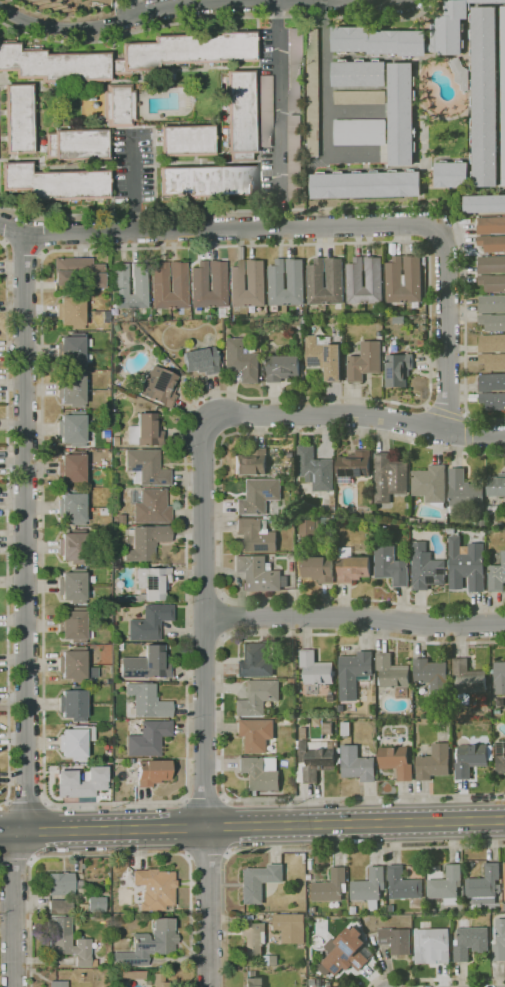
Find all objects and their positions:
road: (193, 5)
road: (134, 7)
road: (218, 19)
building: (410, 35)
building: (127, 56)
building: (293, 70)
building: (359, 73)
building: (460, 74)
road: (324, 78)
building: (313, 93)
building: (502, 93)
building: (359, 97)
building: (484, 97)
building: (118, 106)
building: (265, 112)
road: (278, 113)
building: (239, 114)
building: (401, 114)
building: (18, 118)
building: (359, 132)
building: (186, 141)
building: (76, 144)
building: (295, 157)
building: (452, 174)
building: (206, 181)
building: (54, 183)
building: (366, 184)
road: (133, 188)
building: (484, 204)
road: (347, 207)
building: (491, 225)
road: (321, 226)
road: (51, 232)
building: (492, 243)
road: (424, 248)
road: (24, 252)
building: (491, 265)
building: (78, 272)
road: (5, 276)
building: (354, 277)
building: (335, 279)
building: (404, 280)
building: (296, 281)
building: (217, 282)
building: (238, 282)
building: (492, 283)
building: (159, 284)
building: (120, 286)
building: (70, 312)
building: (504, 313)
building: (106, 317)
building: (399, 320)
building: (379, 333)
building: (420, 342)
building: (491, 343)
building: (71, 349)
building: (324, 357)
building: (201, 360)
building: (241, 360)
building: (365, 361)
building: (492, 361)
building: (282, 367)
building: (345, 367)
building: (398, 369)
building: (491, 382)
building: (159, 387)
building: (72, 389)
building: (493, 400)
road: (425, 405)
road: (447, 413)
road: (352, 415)
road: (468, 417)
building: (71, 429)
building: (145, 431)
road: (467, 433)
building: (115, 441)
road: (469, 450)
building: (2, 454)
building: (290, 455)
building: (251, 462)
building: (354, 466)
building: (71, 467)
building: (146, 467)
building: (315, 469)
building: (389, 478)
building: (430, 485)
building: (497, 485)
building: (464, 494)
building: (259, 496)
building: (149, 506)
building: (72, 507)
building: (493, 507)
road: (220, 517)
building: (121, 519)
building: (415, 521)
building: (481, 524)
building: (500, 525)
building: (310, 528)
building: (451, 531)
building: (255, 535)
building: (146, 542)
building: (73, 546)
road: (6, 559)
building: (154, 565)
building: (164, 565)
building: (466, 565)
building: (352, 566)
building: (391, 566)
building: (426, 568)
building: (318, 569)
building: (260, 574)
building: (497, 575)
building: (72, 585)
building: (149, 585)
road: (25, 611)
road: (221, 616)
road: (354, 616)
building: (149, 622)
building: (73, 625)
building: (255, 661)
building: (146, 663)
building: (73, 664)
building: (315, 668)
building: (392, 672)
building: (354, 674)
building: (432, 675)
building: (499, 677)
building: (467, 678)
building: (291, 682)
building: (258, 698)
building: (330, 698)
building: (147, 701)
building: (500, 702)
building: (74, 703)
road: (204, 707)
building: (91, 711)
road: (221, 716)
building: (287, 720)
building: (345, 727)
building: (255, 735)
building: (149, 738)
building: (74, 742)
building: (500, 757)
building: (315, 759)
building: (471, 759)
building: (397, 761)
building: (434, 762)
building: (357, 764)
building: (152, 772)
building: (261, 772)
building: (81, 782)
road: (204, 798)
road: (26, 800)
road: (226, 825)
road: (261, 826)
road: (186, 828)
road: (9, 832)
road: (367, 849)
road: (208, 853)
road: (112, 854)
road: (17, 860)
building: (436, 873)
building: (504, 874)
building: (259, 881)
building: (63, 883)
building: (368, 885)
building: (446, 885)
building: (484, 885)
building: (330, 886)
building: (403, 886)
building: (155, 888)
building: (96, 904)
building: (60, 906)
building: (504, 907)
building: (313, 910)
building: (353, 910)
building: (463, 923)
building: (290, 927)
building: (253, 937)
building: (396, 940)
building: (470, 942)
building: (499, 942)
building: (149, 944)
building: (432, 945)
building: (70, 946)
building: (346, 952)
building: (132, 975)
road: (434, 979)
building: (253, 980)
building: (159, 981)
building: (312, 982)
building: (58, 984)

